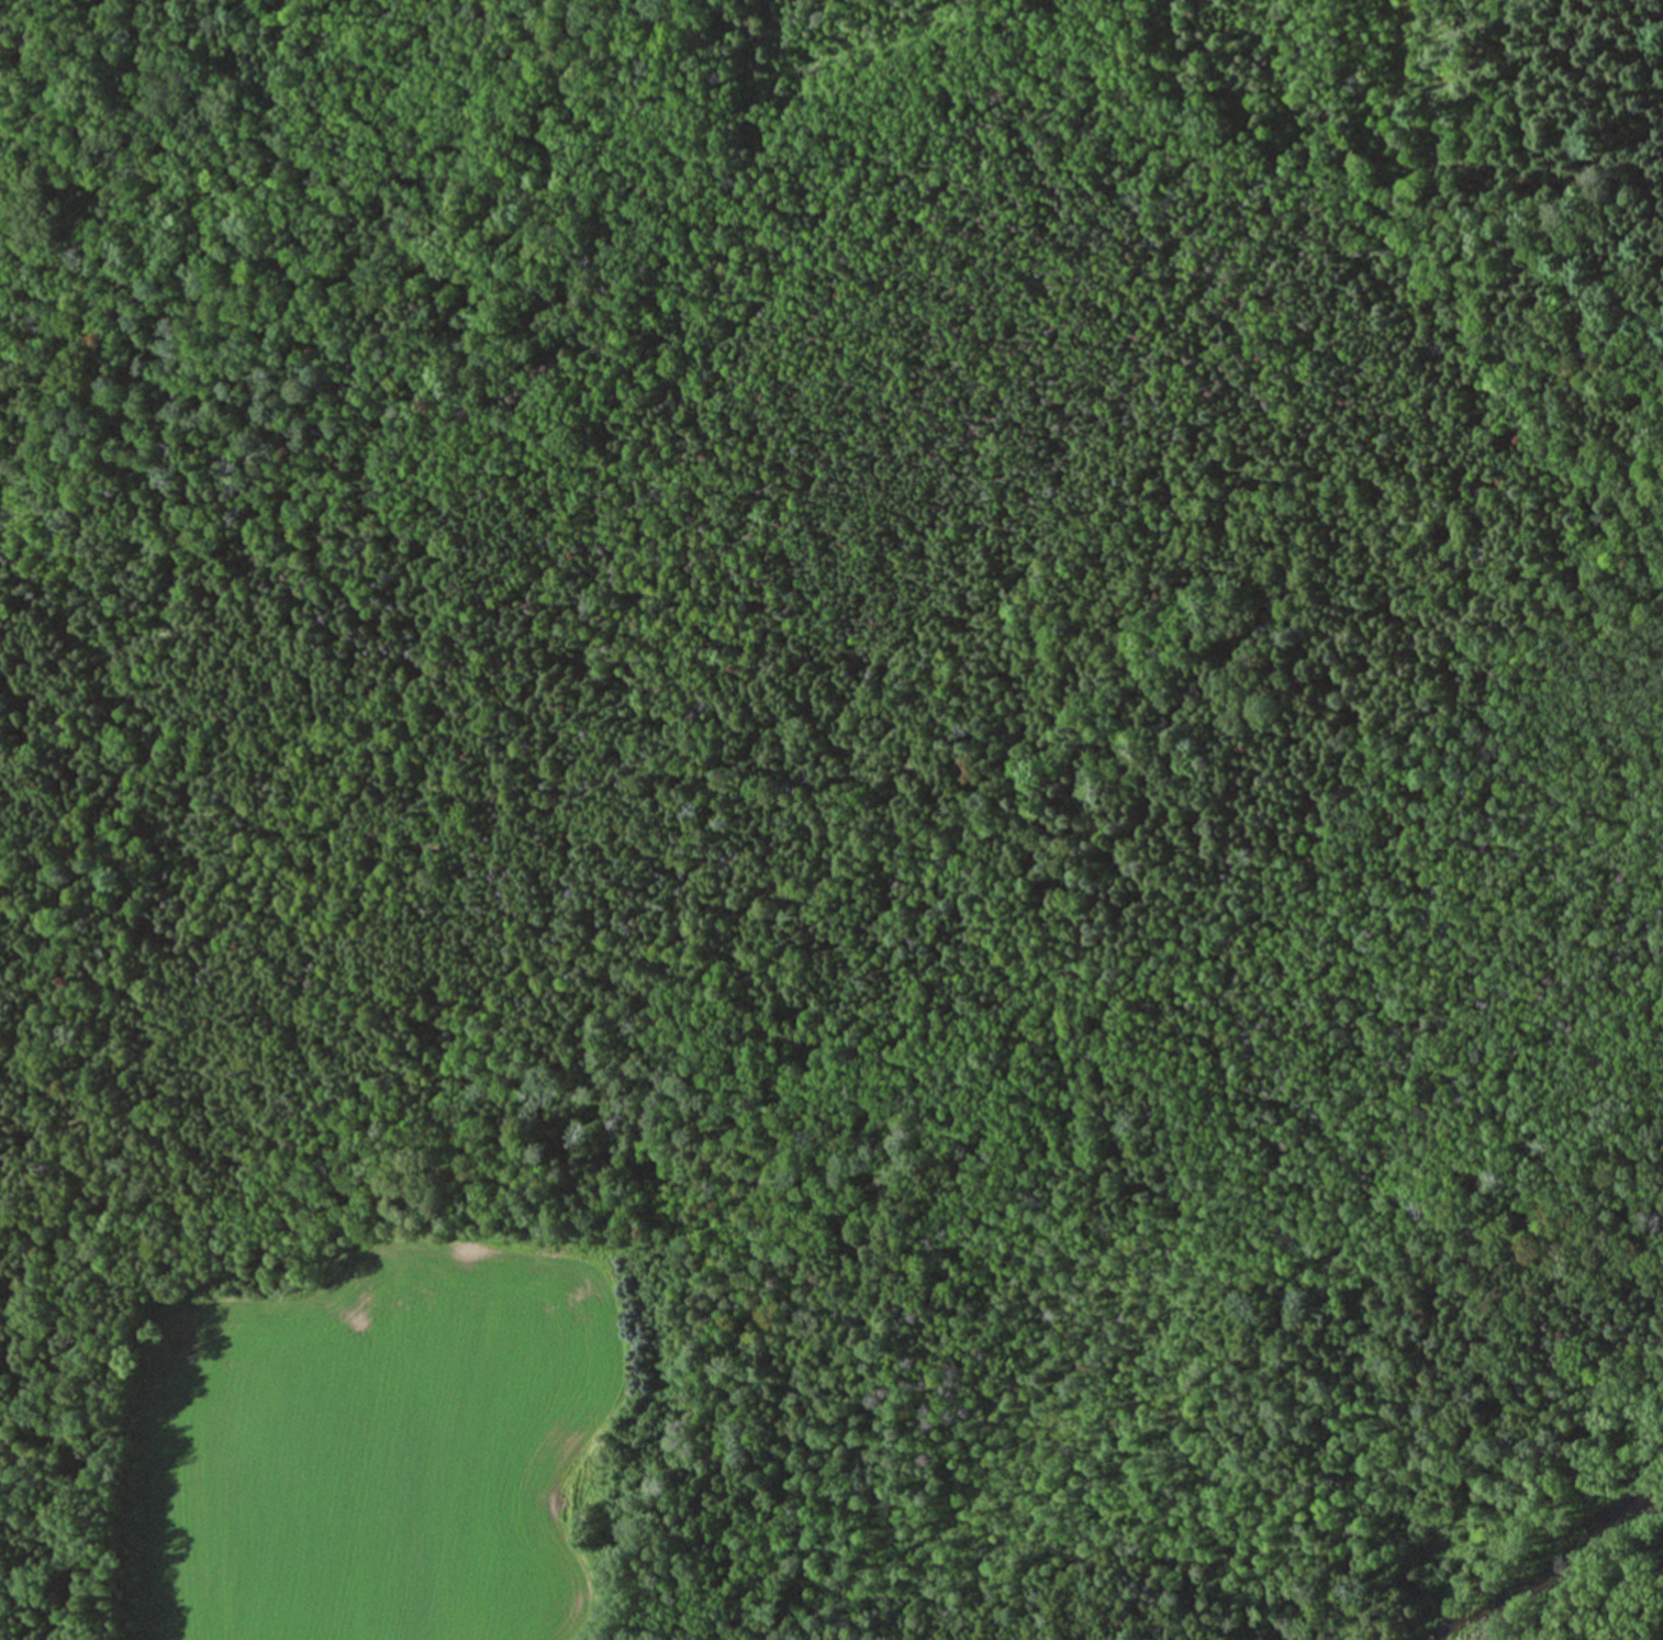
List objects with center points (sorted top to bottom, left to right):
river: (1543, 1568)

